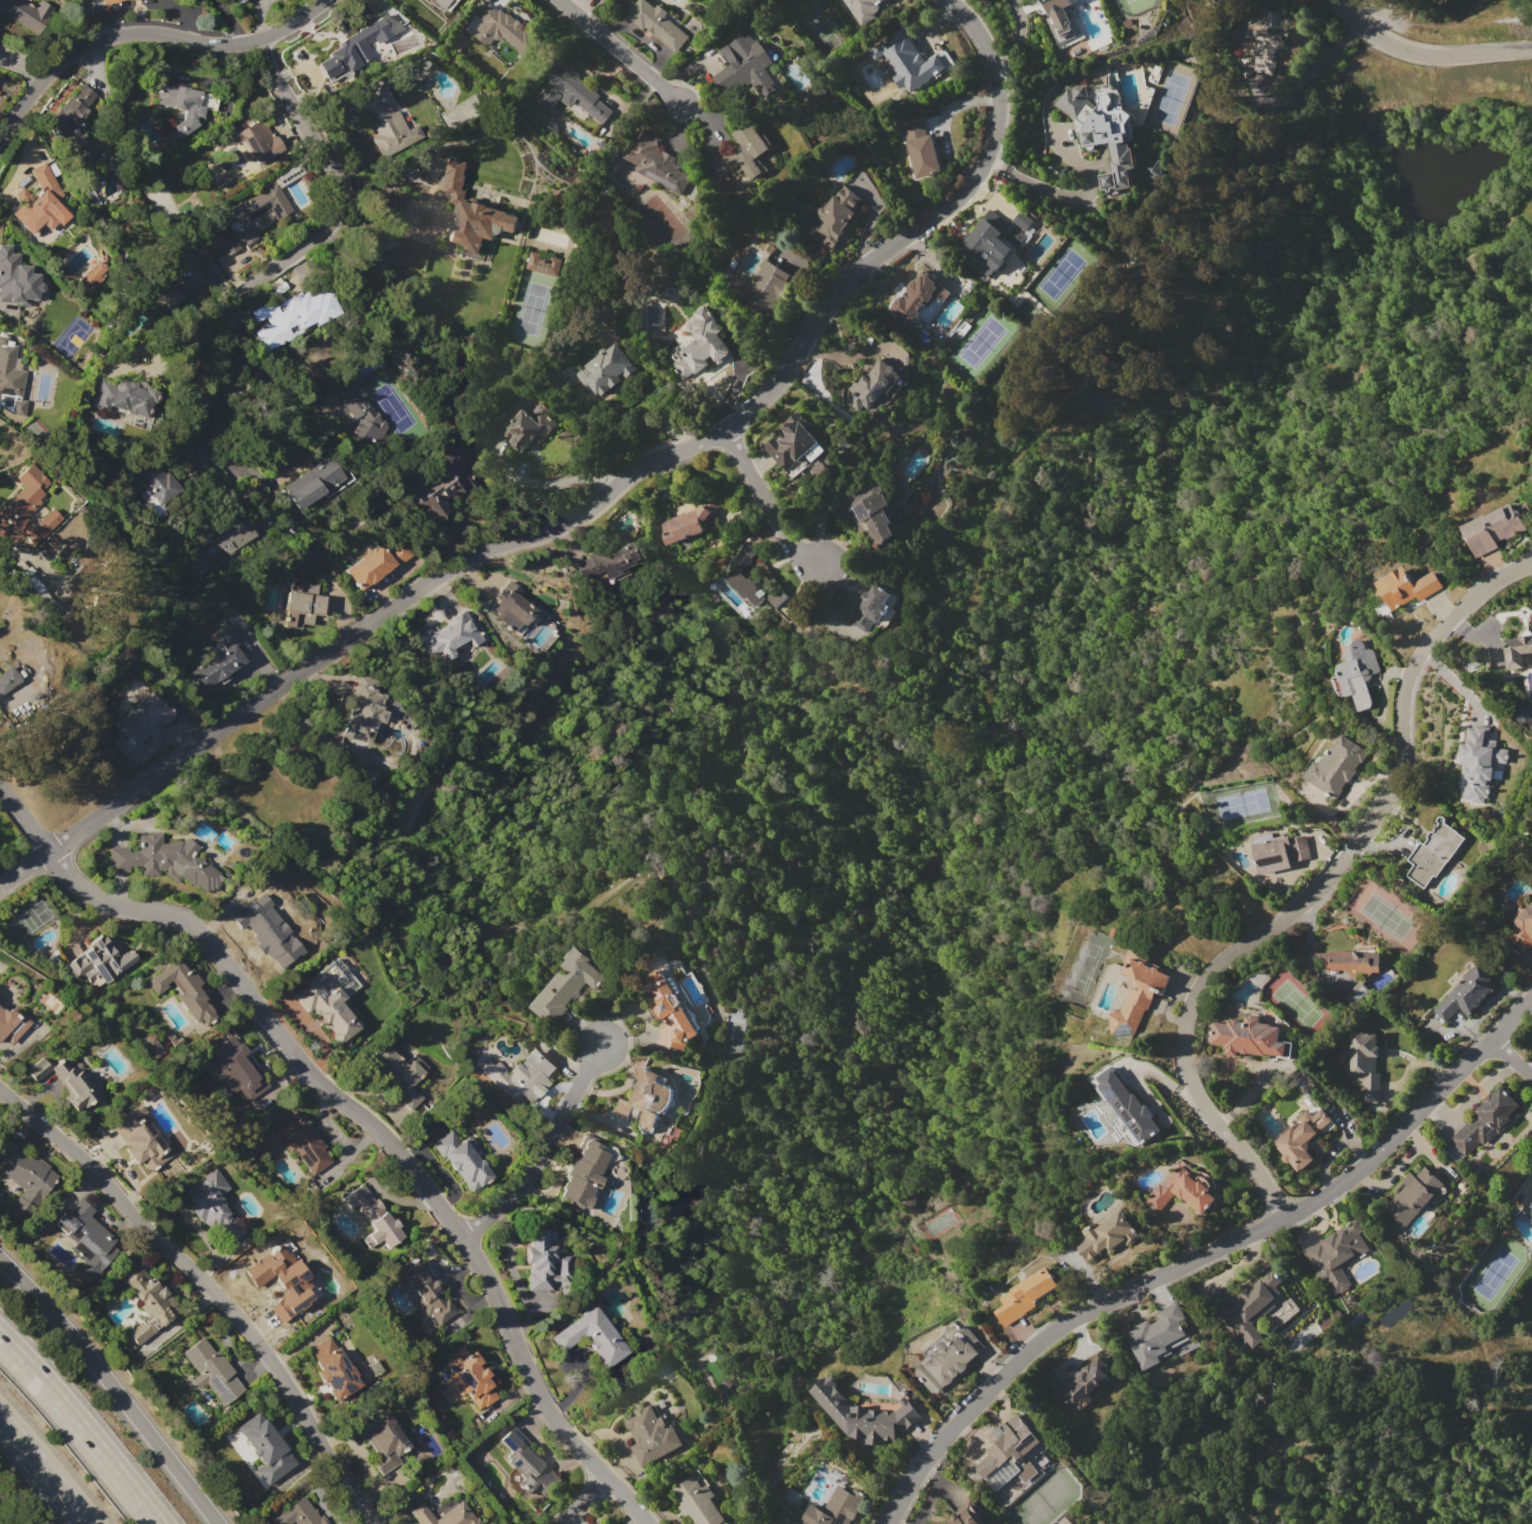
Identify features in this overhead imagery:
building: (446, 1)
building: (111, 2)
building: (241, 2)
building: (374, 3)
building: (860, 7)
building: (26, 13)
road: (90, 19)
road: (231, 20)
building: (1058, 20)
building: (658, 23)
building: (504, 29)
road: (148, 32)
building: (372, 35)
building: (1268, 41)
road: (621, 53)
road: (1426, 54)
building: (910, 60)
building: (338, 63)
building: (421, 63)
road: (20, 68)
building: (745, 68)
building: (574, 93)
building: (814, 94)
building: (186, 105)
building: (75, 107)
building: (380, 114)
building: (549, 124)
building: (1102, 127)
building: (259, 142)
building: (921, 148)
building: (741, 154)
building: (655, 161)
building: (1151, 169)
road: (1061, 193)
building: (39, 202)
building: (473, 214)
building: (835, 215)
building: (252, 216)
building: (1021, 220)
road: (377, 236)
building: (990, 243)
road: (292, 254)
building: (544, 264)
building: (93, 276)
building: (16, 279)
building: (763, 287)
building: (159, 296)
building: (918, 297)
building: (289, 322)
building: (701, 345)
building: (606, 370)
building: (10, 379)
road: (732, 379)
building: (875, 387)
building: (125, 397)
building: (359, 416)
building: (525, 428)
building: (793, 443)
road: (560, 479)
building: (318, 480)
building: (446, 481)
building: (151, 484)
road: (591, 501)
building: (21, 504)
road: (767, 504)
building: (868, 514)
building: (689, 521)
building: (41, 526)
building: (1495, 528)
building: (223, 541)
building: (610, 561)
building: (376, 563)
building: (754, 580)
building: (1405, 587)
building: (302, 603)
building: (511, 607)
building: (875, 608)
building: (451, 636)
building: (1517, 649)
building: (219, 659)
building: (1356, 674)
building: (8, 679)
building: (363, 711)
building: (141, 720)
building: (1477, 764)
building: (1336, 766)
building: (1280, 853)
building: (1432, 853)
building: (165, 861)
road: (1314, 893)
building: (1522, 927)
building: (268, 936)
building: (1353, 961)
building: (99, 962)
building: (564, 985)
building: (183, 990)
building: (1467, 994)
building: (329, 998)
building: (1137, 999)
building: (669, 1012)
building: (11, 1023)
building: (1250, 1038)
building: (151, 1047)
road: (1512, 1056)
building: (1364, 1063)
building: (236, 1067)
building: (394, 1075)
building: (521, 1076)
building: (65, 1081)
building: (646, 1099)
building: (1126, 1108)
road: (358, 1115)
building: (1487, 1120)
building: (1303, 1137)
building: (140, 1139)
building: (296, 1141)
road: (544, 1148)
building: (461, 1159)
building: (590, 1170)
building: (24, 1178)
building: (1180, 1191)
building: (1412, 1196)
building: (212, 1208)
building: (1528, 1210)
building: (373, 1218)
building: (1106, 1235)
building: (86, 1240)
building: (1336, 1254)
road: (1203, 1256)
building: (543, 1261)
building: (285, 1279)
road: (209, 1291)
building: (427, 1293)
building: (1025, 1295)
building: (149, 1306)
building: (1251, 1307)
building: (591, 1336)
building: (1160, 1337)
building: (949, 1359)
building: (334, 1369)
building: (211, 1371)
building: (469, 1377)
building: (726, 1383)
building: (1075, 1385)
road: (113, 1388)
building: (864, 1415)
road: (80, 1429)
building: (651, 1435)
building: (381, 1439)
building: (264, 1448)
building: (1006, 1451)
building: (527, 1463)
road: (44, 1470)
road: (579, 1499)
building: (697, 1502)
building: (836, 1508)
building: (298, 1514)
building: (444, 1515)
building: (965, 1516)
park: (2, 1520)
building: (489, 1523)

